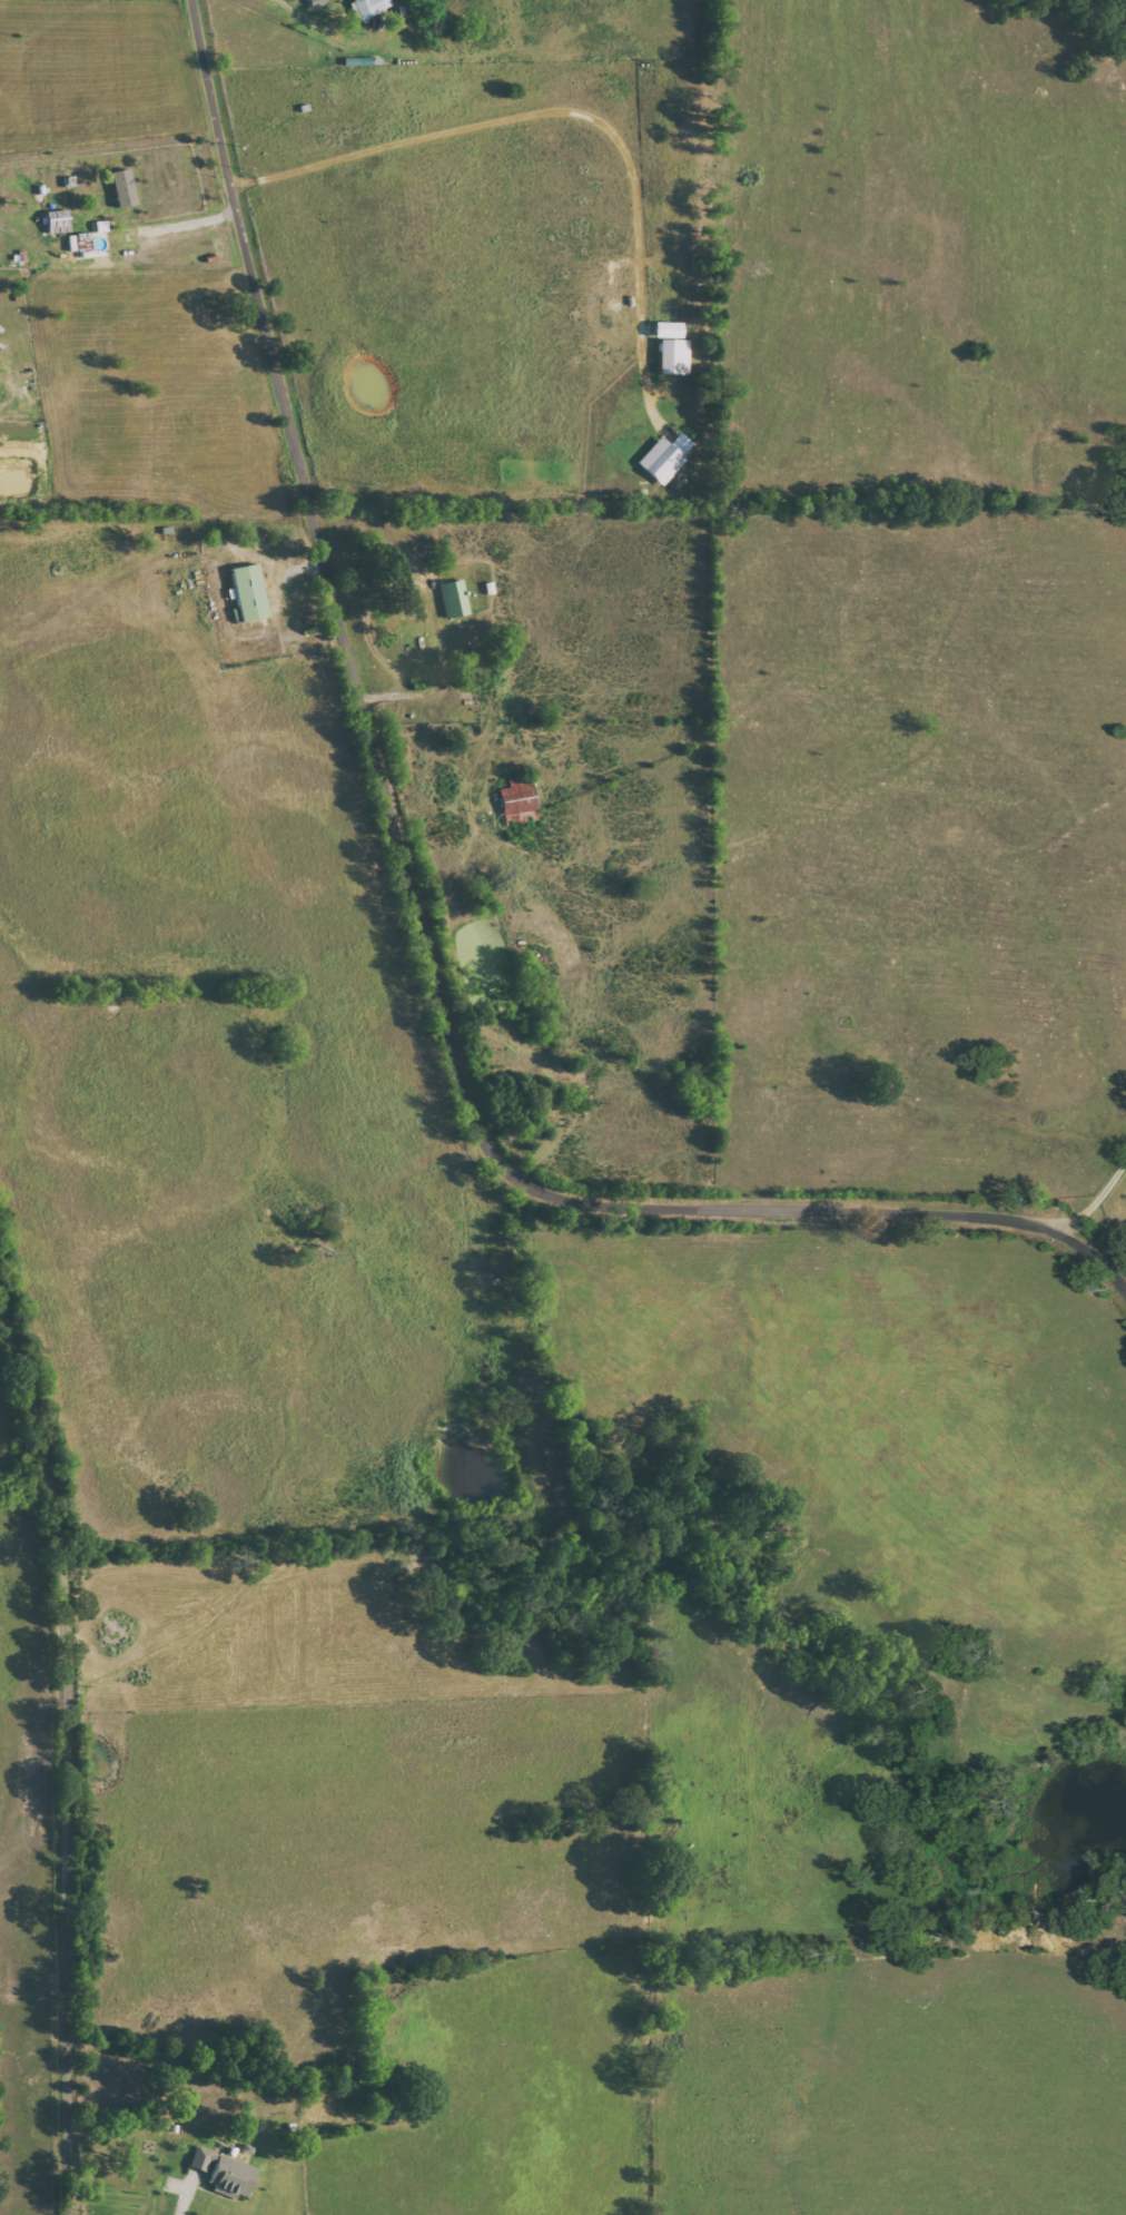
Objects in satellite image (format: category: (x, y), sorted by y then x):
building: (369, 7)
road: (323, 28)
road: (569, 109)
building: (122, 188)
road: (174, 225)
building: (673, 356)
building: (664, 457)
building: (248, 592)
building: (454, 598)
building: (518, 800)
road: (421, 904)
road: (1096, 1201)
road: (66, 1754)
building: (200, 2160)
building: (230, 2176)
road: (185, 2195)

